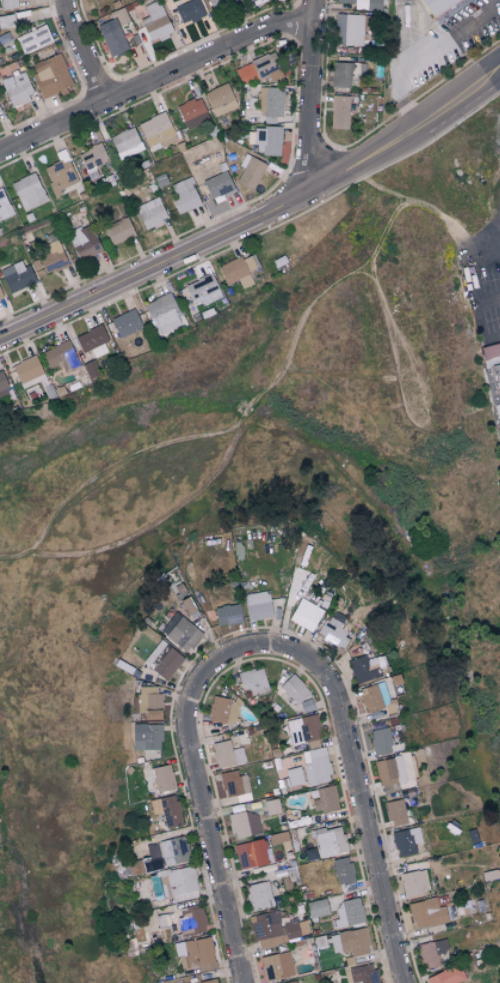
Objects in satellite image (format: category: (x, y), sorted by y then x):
building: (8, 3)
building: (218, 3)
building: (364, 4)
building: (442, 6)
building: (188, 11)
building: (155, 22)
building: (348, 29)
building: (112, 38)
building: (33, 39)
road: (447, 41)
road: (85, 53)
building: (267, 67)
building: (245, 74)
building: (341, 74)
building: (51, 75)
road: (156, 82)
building: (17, 89)
building: (220, 99)
road: (313, 100)
building: (270, 101)
road: (406, 103)
building: (339, 112)
building: (192, 113)
building: (157, 131)
building: (265, 140)
building: (126, 142)
building: (92, 158)
building: (250, 172)
building: (59, 175)
building: (218, 185)
building: (28, 191)
building: (184, 196)
building: (4, 206)
building: (152, 213)
road: (260, 223)
building: (118, 231)
building: (83, 242)
building: (51, 257)
road: (486, 257)
building: (237, 271)
building: (18, 277)
building: (202, 290)
building: (0, 296)
building: (163, 315)
building: (126, 324)
building: (92, 341)
building: (499, 346)
building: (60, 357)
building: (27, 370)
building: (497, 373)
building: (3, 387)
building: (499, 409)
building: (257, 605)
building: (228, 614)
building: (305, 614)
building: (333, 629)
building: (180, 632)
building: (163, 659)
building: (365, 668)
building: (253, 680)
building: (294, 688)
building: (373, 696)
building: (148, 702)
building: (306, 705)
building: (222, 709)
building: (303, 729)
building: (146, 736)
building: (382, 740)
building: (226, 753)
building: (316, 766)
building: (145, 771)
building: (389, 773)
building: (293, 776)
building: (163, 778)
building: (233, 783)
road: (355, 784)
building: (324, 799)
road: (201, 803)
building: (166, 809)
building: (395, 812)
building: (243, 824)
building: (330, 841)
building: (405, 841)
building: (171, 852)
building: (250, 853)
building: (135, 867)
building: (342, 870)
building: (181, 882)
building: (413, 884)
building: (258, 895)
building: (316, 908)
building: (426, 912)
building: (349, 913)
building: (191, 919)
building: (272, 929)
building: (350, 941)
building: (431, 952)
building: (195, 954)
building: (276, 965)
building: (362, 973)
building: (446, 975)
building: (209, 981)
building: (291, 982)

